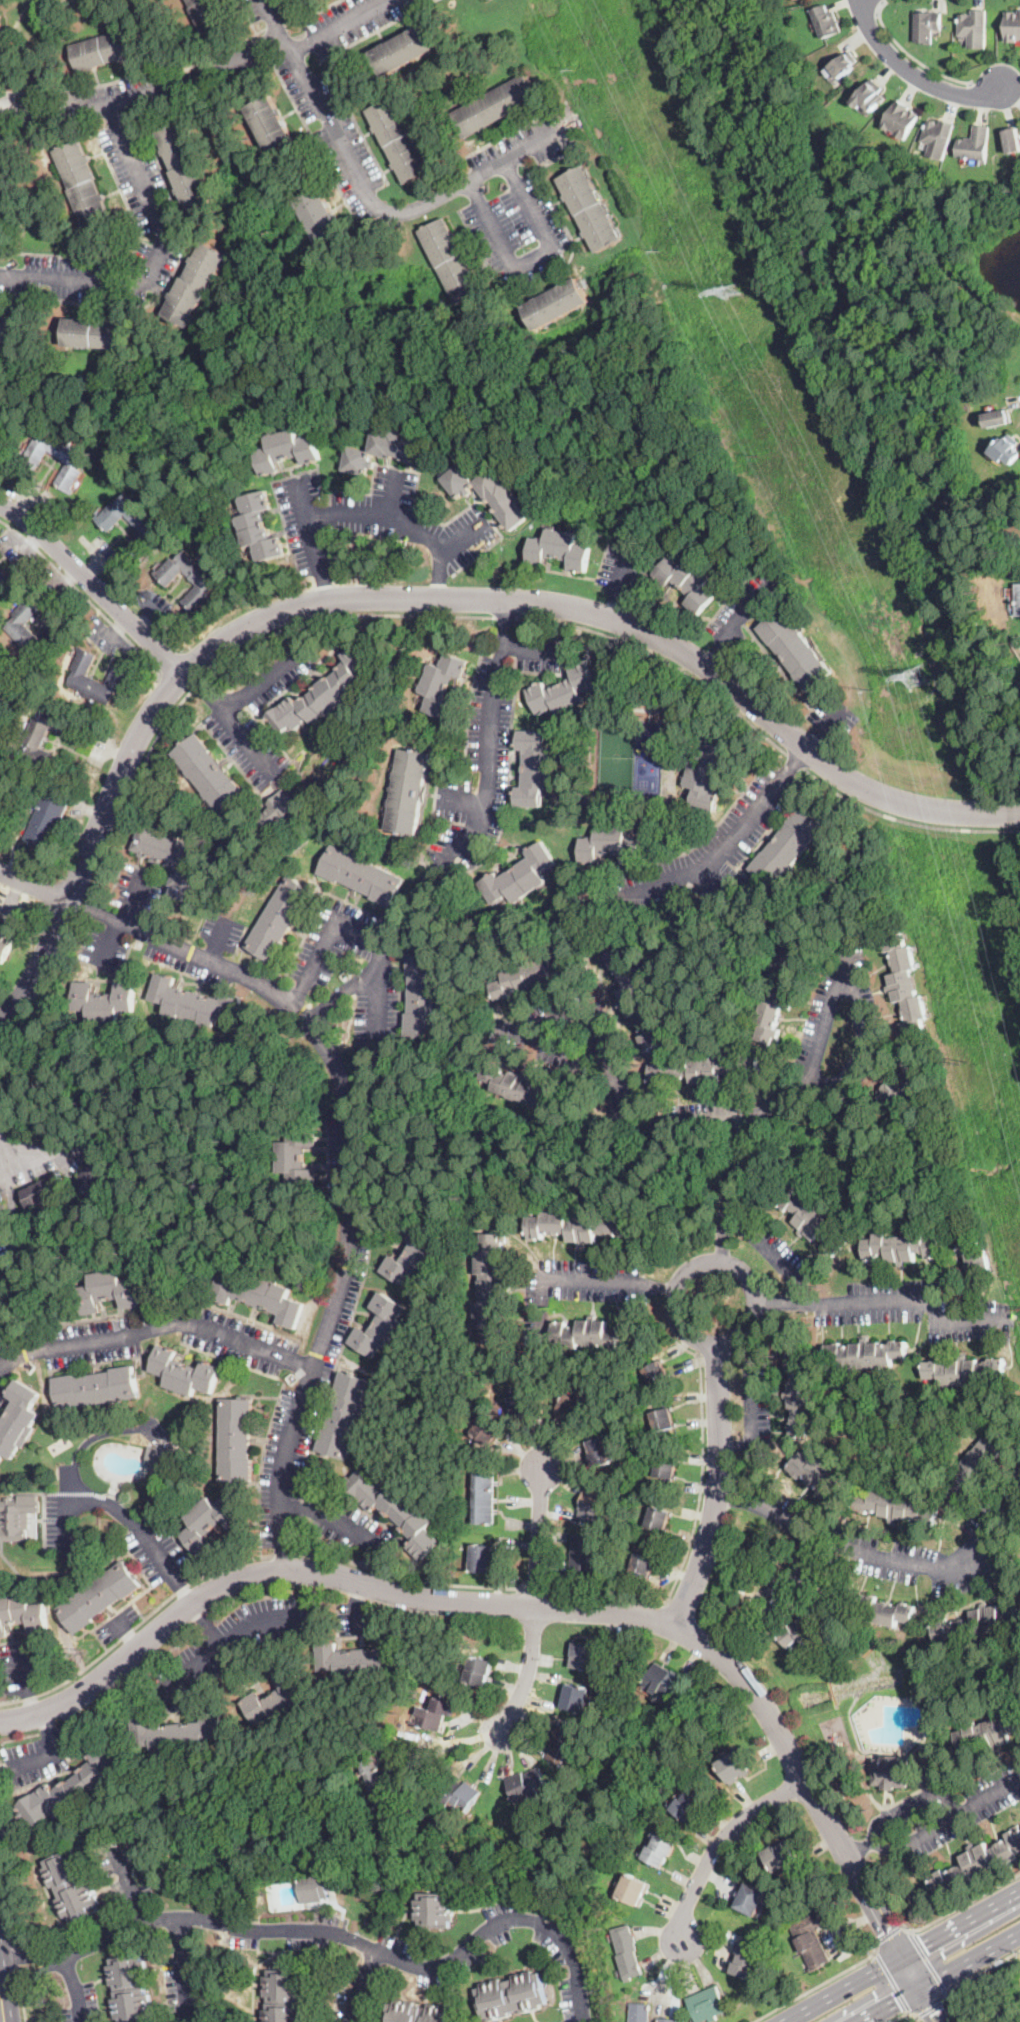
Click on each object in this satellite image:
road: (881, 3)
parking lot: (259, 9)
building: (208, 15)
parking lot: (351, 21)
building: (826, 22)
building: (926, 27)
building: (1012, 27)
road: (341, 28)
building: (974, 29)
building: (1, 41)
building: (404, 49)
building: (104, 50)
road: (910, 56)
building: (843, 65)
power tower: (572, 70)
road: (913, 74)
road: (144, 95)
building: (870, 97)
building: (496, 106)
building: (901, 120)
building: (271, 123)
parking lot: (334, 133)
building: (937, 138)
building: (1012, 140)
building: (399, 141)
parking lot: (523, 145)
building: (975, 146)
building: (186, 165)
parking lot: (142, 181)
building: (83, 184)
road: (368, 196)
building: (589, 208)
building: (320, 215)
parking lot: (517, 230)
power tower: (661, 251)
road: (155, 255)
building: (451, 261)
road: (534, 261)
building: (196, 284)
power tower: (734, 290)
building: (557, 304)
building: (6, 327)
building: (96, 333)
power tower: (739, 419)
building: (997, 419)
building: (2, 425)
building: (1006, 449)
building: (286, 450)
building: (388, 451)
building: (75, 461)
building: (490, 494)
road: (393, 496)
road: (305, 501)
road: (352, 517)
parking lot: (374, 521)
building: (258, 526)
building: (151, 529)
road: (461, 538)
building: (559, 549)
building: (360, 568)
parking lot: (624, 568)
road: (623, 569)
road: (439, 576)
building: (6, 580)
building: (687, 581)
road: (94, 584)
building: (205, 584)
road: (321, 590)
road: (81, 593)
road: (419, 599)
building: (1018, 599)
road: (612, 604)
parking lot: (742, 610)
road: (505, 615)
road: (732, 623)
building: (21, 632)
road: (531, 647)
building: (795, 649)
road: (225, 659)
road: (663, 660)
building: (119, 676)
road: (260, 676)
power tower: (920, 679)
road: (173, 681)
building: (441, 683)
road: (203, 688)
building: (564, 691)
power tower: (872, 692)
building: (321, 696)
parking lot: (832, 716)
parking lot: (220, 717)
road: (823, 729)
building: (43, 736)
road: (491, 737)
road: (248, 740)
parking lot: (488, 752)
park: (617, 756)
road: (796, 762)
building: (535, 768)
building: (707, 771)
building: (210, 775)
building: (0, 791)
building: (410, 791)
road: (465, 802)
building: (5, 811)
building: (280, 811)
building: (47, 818)
road: (907, 820)
road: (735, 835)
building: (611, 845)
building: (787, 847)
parking lot: (705, 856)
building: (170, 861)
building: (362, 875)
building: (520, 877)
road: (715, 877)
road: (34, 887)
road: (83, 907)
building: (280, 918)
building: (0, 921)
road: (124, 921)
parking lot: (159, 932)
road: (372, 938)
road: (218, 939)
building: (5, 945)
parking lot: (351, 971)
building: (531, 976)
building: (906, 984)
road: (46, 988)
building: (424, 994)
road: (343, 996)
road: (295, 997)
building: (636, 997)
building: (777, 998)
building: (104, 1001)
building: (194, 1002)
road: (587, 1014)
parking lot: (818, 1021)
parking lot: (571, 1040)
power tower: (962, 1060)
building: (705, 1068)
road: (826, 1081)
building: (906, 1081)
building: (518, 1087)
parking lot: (707, 1114)
road: (755, 1122)
parking lot: (345, 1152)
road: (4, 1153)
building: (298, 1157)
road: (350, 1160)
building: (96, 1172)
building: (45, 1191)
road: (731, 1191)
road: (734, 1221)
building: (813, 1221)
building: (582, 1227)
building: (900, 1247)
parking lot: (774, 1249)
building: (414, 1255)
road: (711, 1261)
road: (778, 1261)
building: (976, 1264)
road: (569, 1282)
road: (669, 1287)
parking lot: (578, 1288)
building: (489, 1289)
building: (109, 1291)
building: (260, 1295)
road: (884, 1303)
parking lot: (912, 1309)
building: (382, 1326)
road: (157, 1327)
building: (593, 1334)
parking lot: (241, 1341)
building: (23, 1342)
parking lot: (78, 1344)
building: (866, 1354)
building: (965, 1371)
building: (185, 1372)
building: (656, 1373)
building: (96, 1388)
parking lot: (2, 1393)
building: (800, 1395)
parking lot: (308, 1399)
road: (751, 1401)
building: (524, 1402)
parking lot: (755, 1404)
building: (572, 1407)
building: (345, 1415)
building: (18, 1419)
building: (662, 1419)
building: (489, 1430)
road: (97, 1437)
building: (236, 1440)
road: (737, 1444)
building: (603, 1450)
building: (156, 1459)
building: (977, 1465)
building: (665, 1467)
building: (816, 1477)
road: (717, 1491)
building: (484, 1497)
road: (737, 1501)
building: (594, 1503)
road: (699, 1504)
road: (111, 1507)
building: (897, 1507)
building: (395, 1510)
building: (18, 1516)
building: (657, 1518)
road: (335, 1521)
parking lot: (59, 1522)
building: (209, 1522)
parking lot: (353, 1527)
road: (539, 1537)
parking lot: (894, 1548)
parking lot: (157, 1551)
road: (283, 1553)
building: (581, 1553)
building: (482, 1559)
road: (899, 1559)
building: (642, 1565)
road: (793, 1571)
road: (410, 1577)
building: (738, 1587)
road: (183, 1592)
building: (100, 1596)
road: (357, 1605)
road: (515, 1606)
building: (886, 1611)
building: (22, 1614)
parking lot: (359, 1619)
parking lot: (118, 1623)
road: (206, 1623)
road: (134, 1624)
building: (976, 1624)
building: (805, 1626)
road: (229, 1638)
parking lot: (231, 1643)
building: (585, 1656)
building: (363, 1658)
parking lot: (21, 1667)
building: (68, 1670)
road: (527, 1670)
building: (477, 1671)
road: (24, 1682)
building: (665, 1682)
building: (576, 1698)
building: (276, 1700)
building: (934, 1710)
building: (434, 1714)
road: (46, 1722)
building: (834, 1732)
building: (989, 1732)
building: (178, 1734)
road: (451, 1745)
building: (565, 1745)
road: (41, 1753)
parking lot: (37, 1757)
building: (733, 1766)
building: (891, 1773)
building: (376, 1778)
building: (529, 1785)
building: (72, 1788)
building: (456, 1794)
road: (922, 1796)
building: (689, 1805)
road: (961, 1810)
parking lot: (940, 1812)
road: (874, 1831)
road: (876, 1840)
road: (720, 1842)
building: (659, 1851)
building: (781, 1856)
building: (976, 1864)
parking lot: (124, 1872)
building: (71, 1886)
building: (315, 1887)
road: (133, 1888)
road: (7, 1889)
building: (633, 1889)
building: (750, 1897)
road: (960, 1904)
building: (435, 1910)
traffic signals: (889, 1928)
road: (889, 1931)
parking lot: (103, 1932)
parking lot: (319, 1937)
building: (811, 1940)
road: (960, 1941)
traffic signals: (922, 1942)
road: (367, 1945)
building: (627, 1952)
traffic signals: (943, 1952)
road: (32, 1955)
road: (899, 1955)
road: (926, 1959)
building: (747, 1961)
parking lot: (449, 1962)
road: (18, 1967)
road: (183, 1967)
road: (978, 1970)
road: (34, 1971)
road: (5, 1975)
road: (892, 1980)
road: (943, 1980)
road: (817, 1983)
road: (359, 1984)
road: (918, 1987)
road: (76, 1988)
building: (130, 1989)
parking lot: (181, 1990)
traffic signals: (876, 1994)
road: (873, 1995)
building: (282, 1996)
building: (512, 1996)
parking lot: (356, 2000)
road: (23, 2004)
parking lot: (80, 2004)
building: (707, 2004)
traffic signals: (899, 2005)
road: (929, 2006)
road: (5, 2008)
building: (639, 2012)
road: (904, 2012)
building: (419, 2013)
traffic signals: (932, 2013)
building: (666, 2020)

